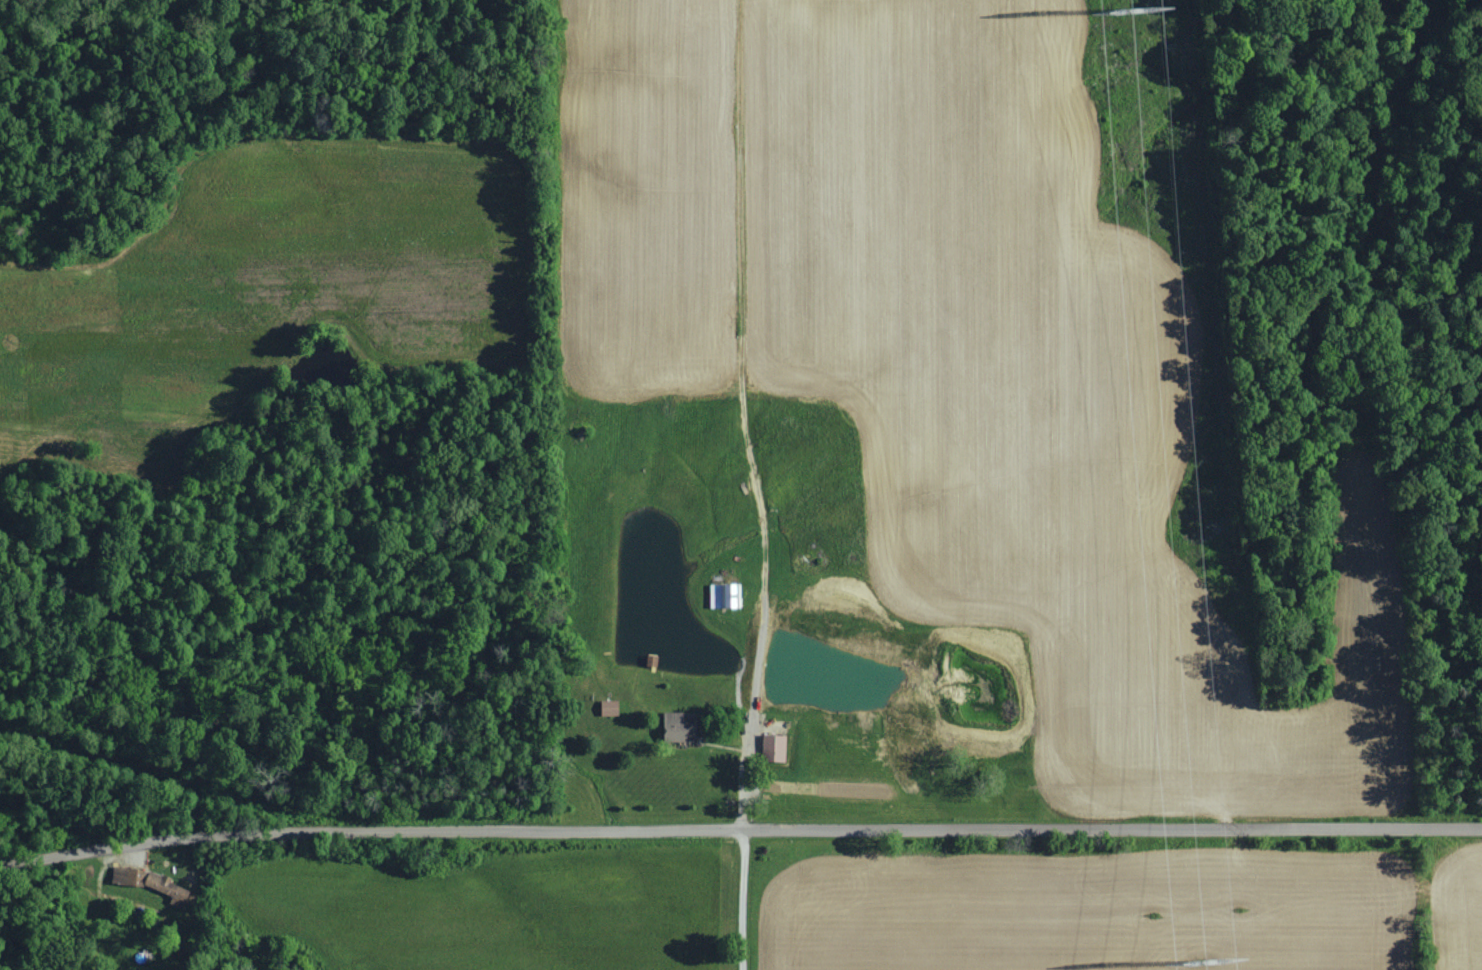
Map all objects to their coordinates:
power tower: (1124, 12)
building: (727, 596)
building: (612, 708)
building: (682, 727)
building: (777, 748)
road: (740, 838)
building: (152, 884)
power tower: (1198, 961)

